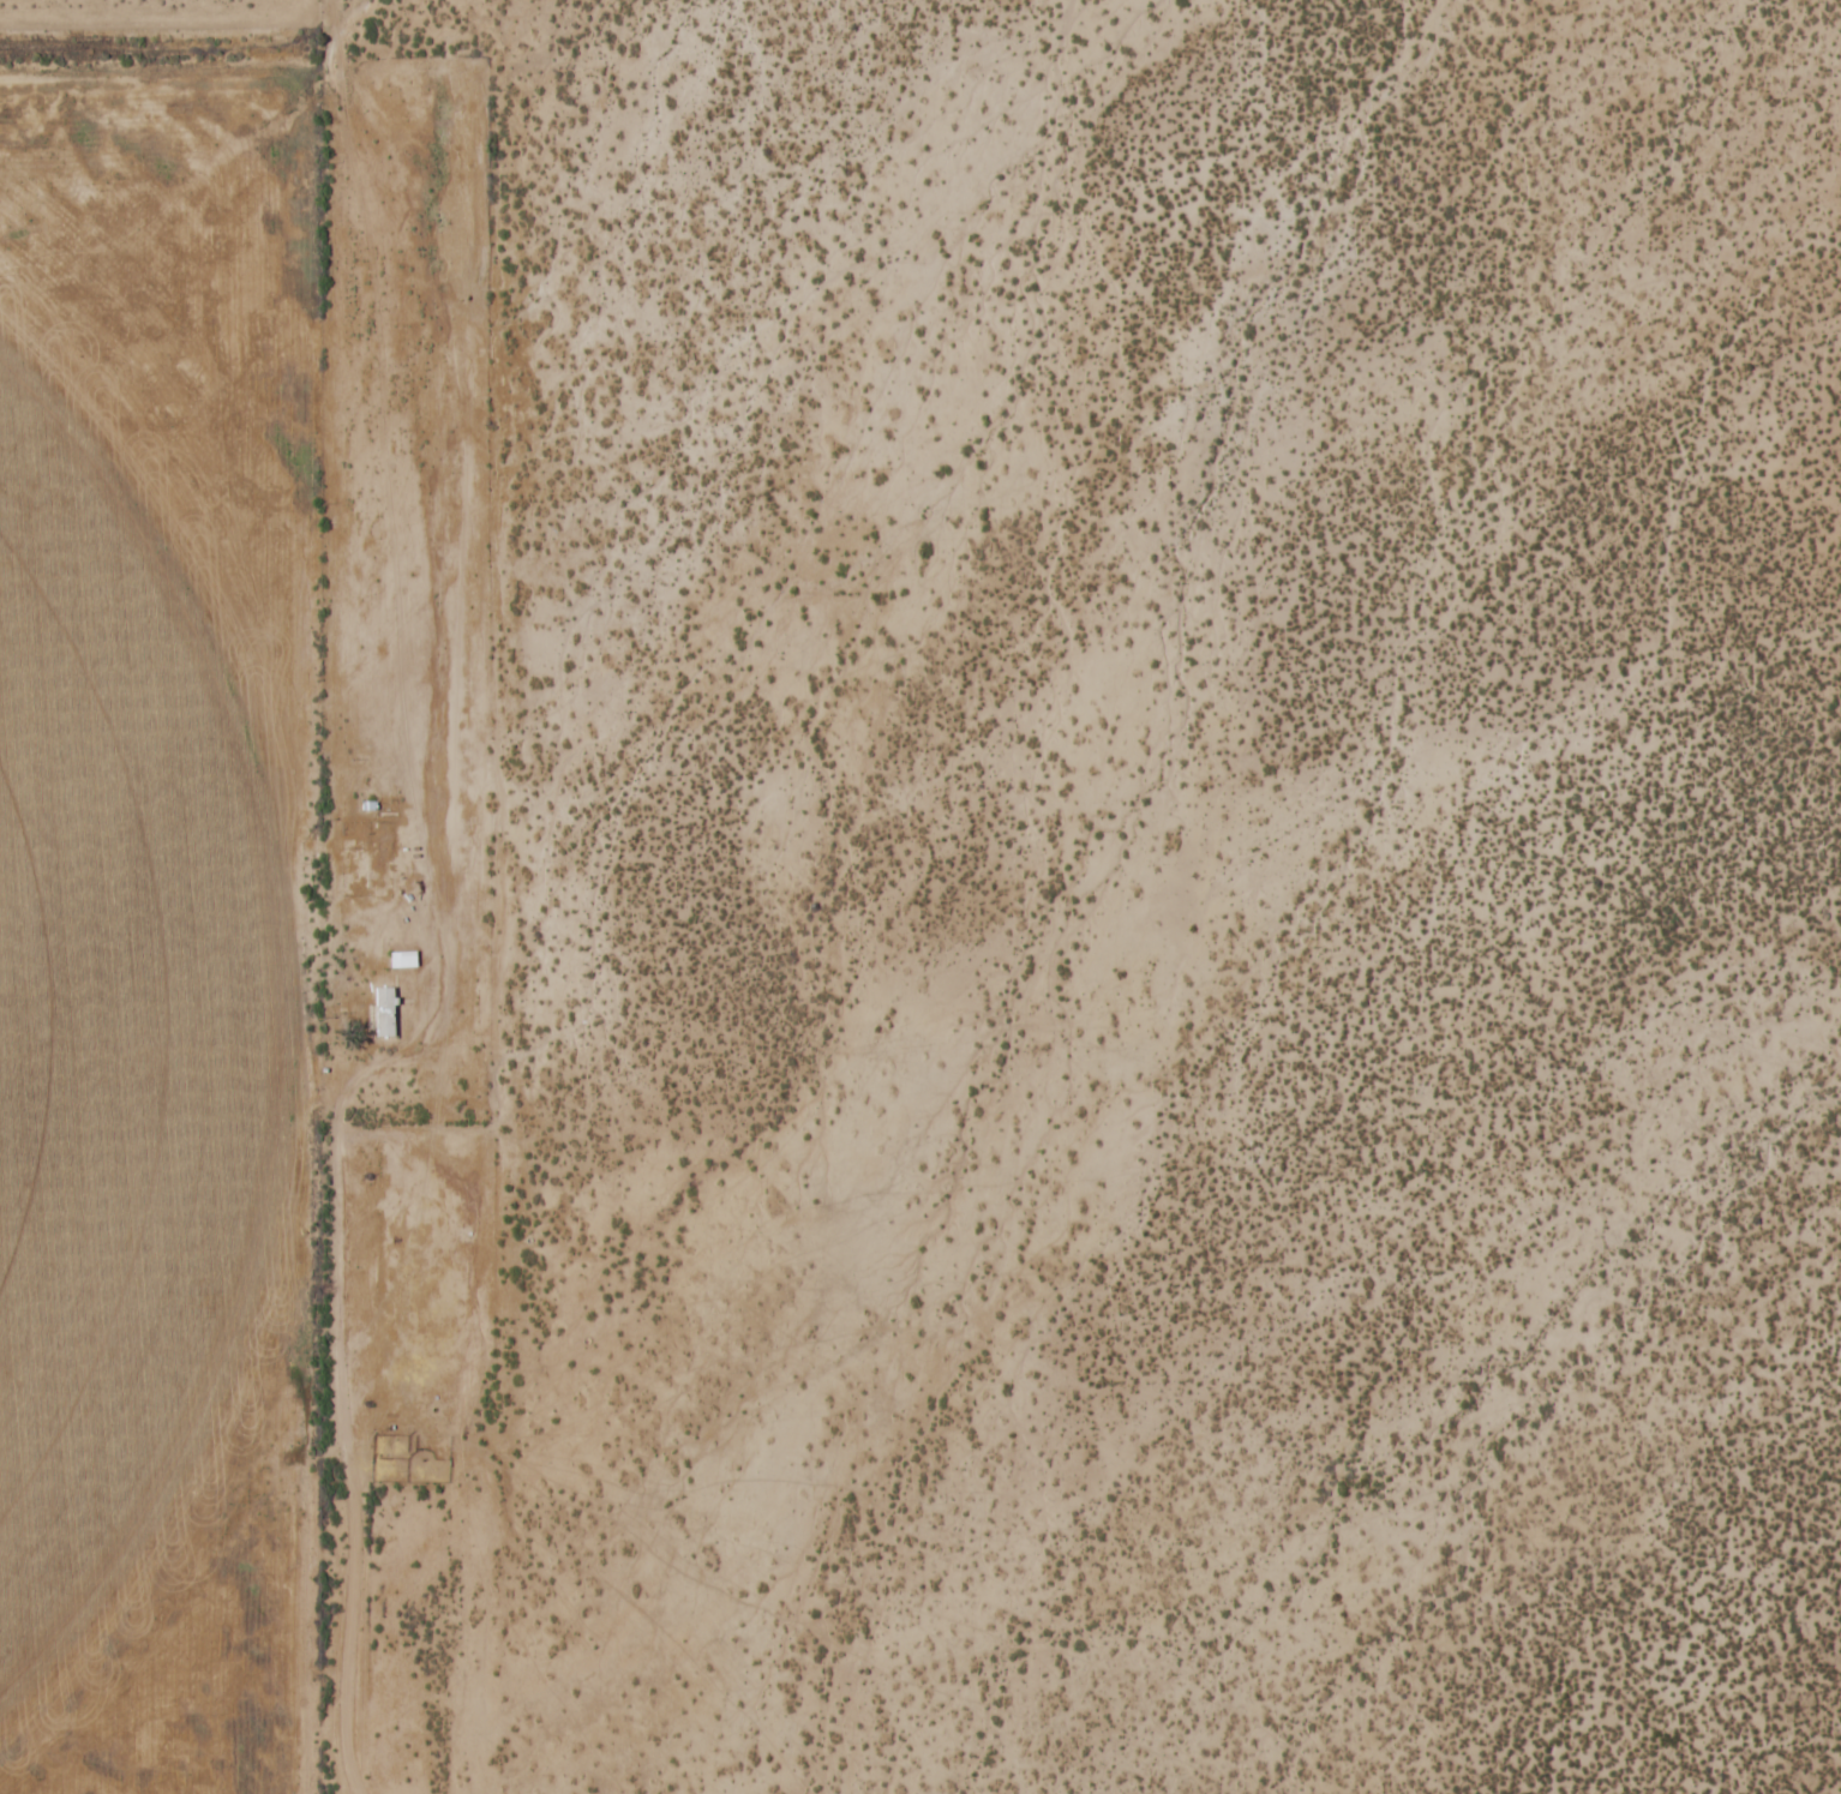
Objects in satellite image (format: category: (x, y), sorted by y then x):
road: (985, 684)
building: (389, 1021)
crop: (132, 1025)
road: (415, 1043)
road: (343, 1418)

